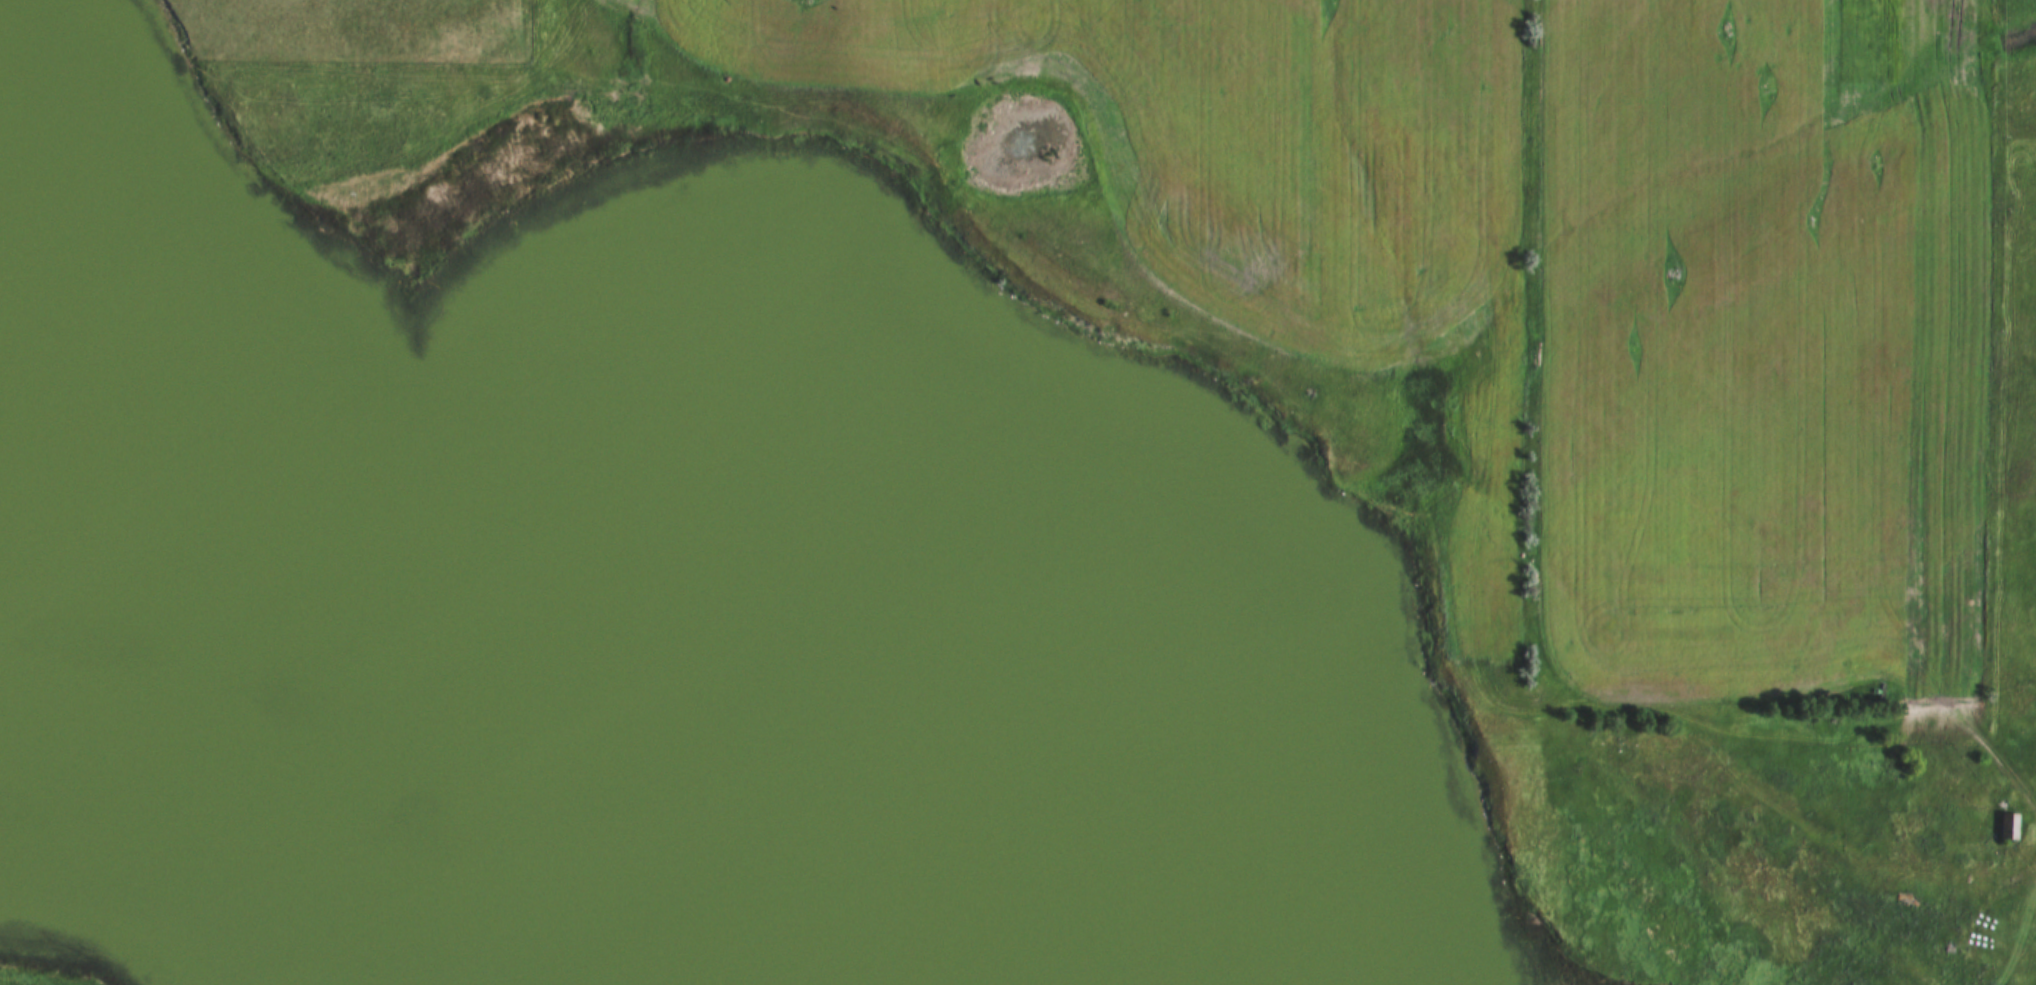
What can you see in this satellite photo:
road: (2003, 757)
building: (2005, 828)
road: (2006, 887)

